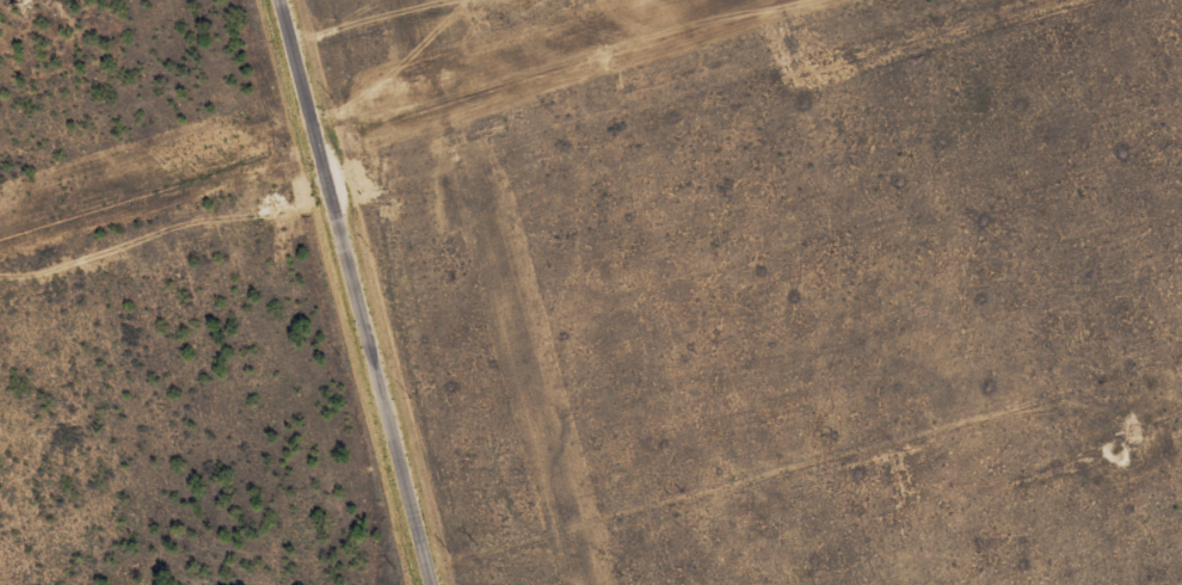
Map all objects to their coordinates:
road: (353, 292)

